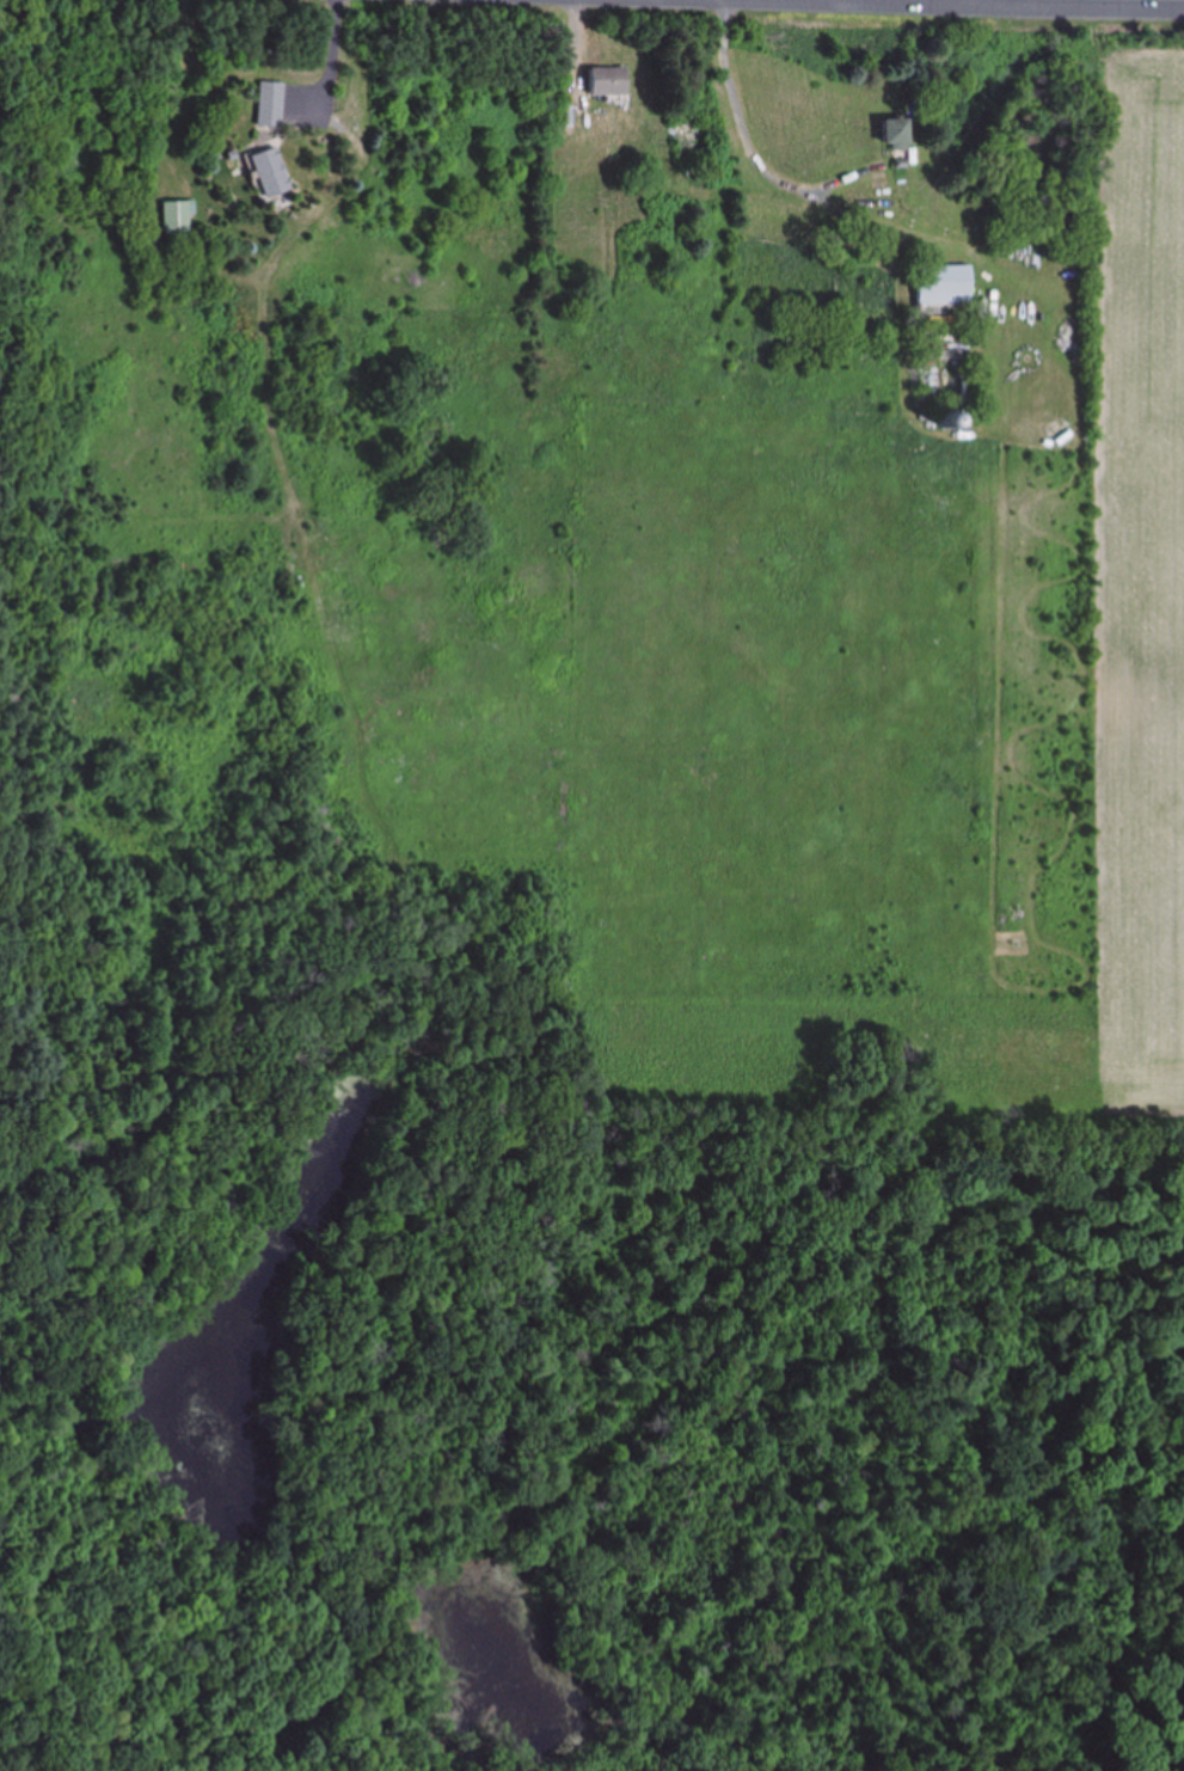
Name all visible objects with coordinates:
road: (1099, 1)
building: (603, 81)
building: (269, 105)
building: (892, 136)
building: (269, 173)
building: (176, 219)
building: (944, 287)

